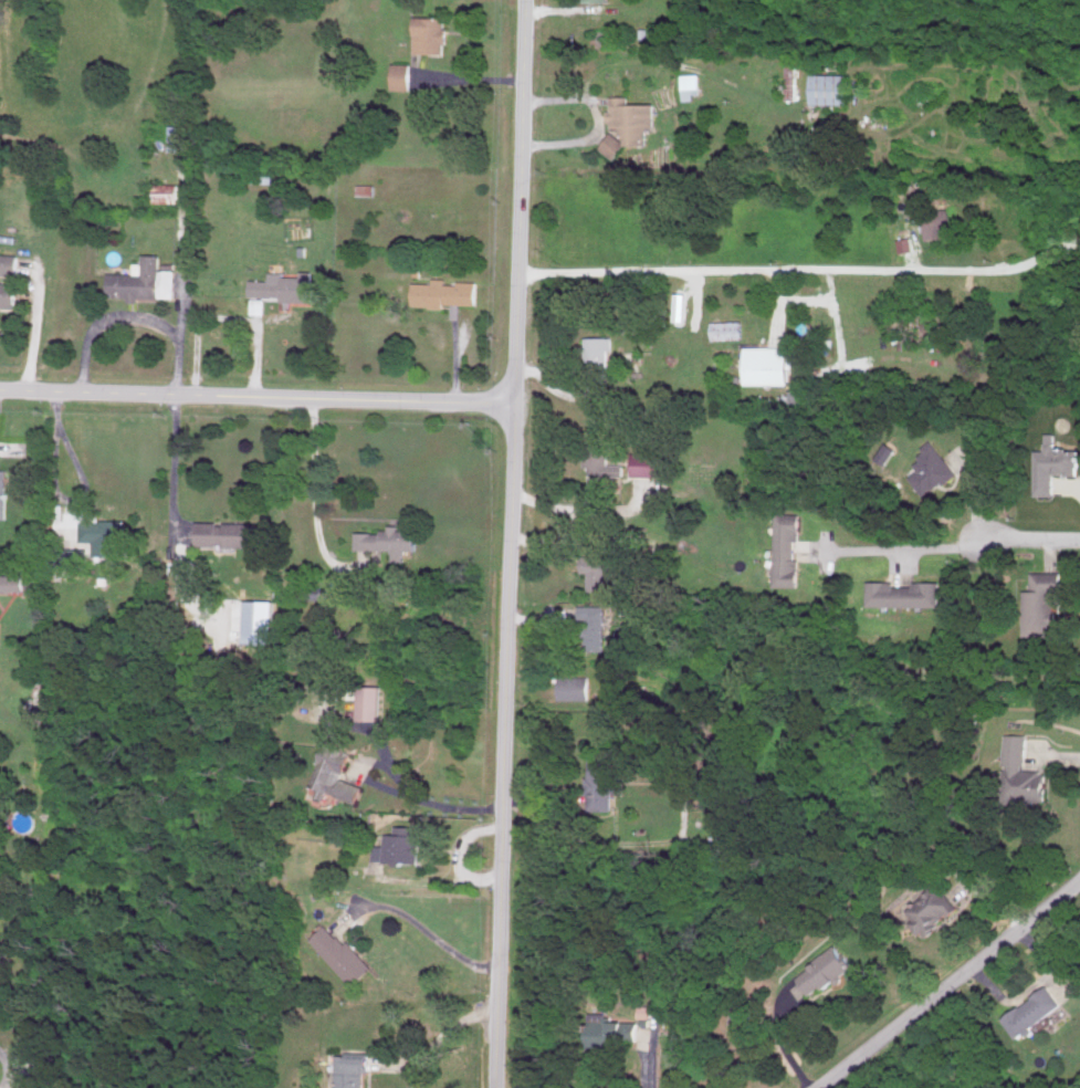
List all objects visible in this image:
building: (597, 0)
building: (430, 34)
building: (401, 75)
building: (791, 76)
building: (690, 86)
building: (830, 88)
building: (632, 118)
building: (184, 136)
building: (615, 144)
building: (263, 175)
building: (167, 191)
building: (939, 222)
building: (906, 243)
building: (9, 262)
road: (803, 270)
building: (145, 280)
building: (285, 285)
building: (445, 292)
building: (9, 293)
road: (33, 334)
building: (599, 355)
building: (768, 364)
road: (260, 396)
building: (602, 460)
building: (648, 463)
building: (1053, 463)
road: (178, 468)
building: (933, 469)
building: (3, 492)
road: (971, 496)
road: (321, 501)
building: (231, 533)
building: (105, 535)
road: (1034, 538)
building: (389, 540)
road: (514, 544)
building: (787, 548)
road: (900, 548)
building: (71, 558)
building: (600, 567)
building: (17, 582)
building: (904, 593)
building: (1042, 603)
building: (260, 620)
building: (596, 627)
building: (575, 687)
building: (371, 701)
building: (1016, 749)
building: (683, 771)
building: (336, 773)
building: (601, 782)
building: (1034, 784)
building: (724, 841)
building: (402, 845)
road: (431, 882)
building: (932, 909)
road: (418, 923)
building: (343, 955)
building: (827, 969)
road: (948, 984)
building: (1035, 1012)
building: (742, 1016)
building: (614, 1032)
road: (438, 1044)
road: (11, 1063)
building: (352, 1070)

